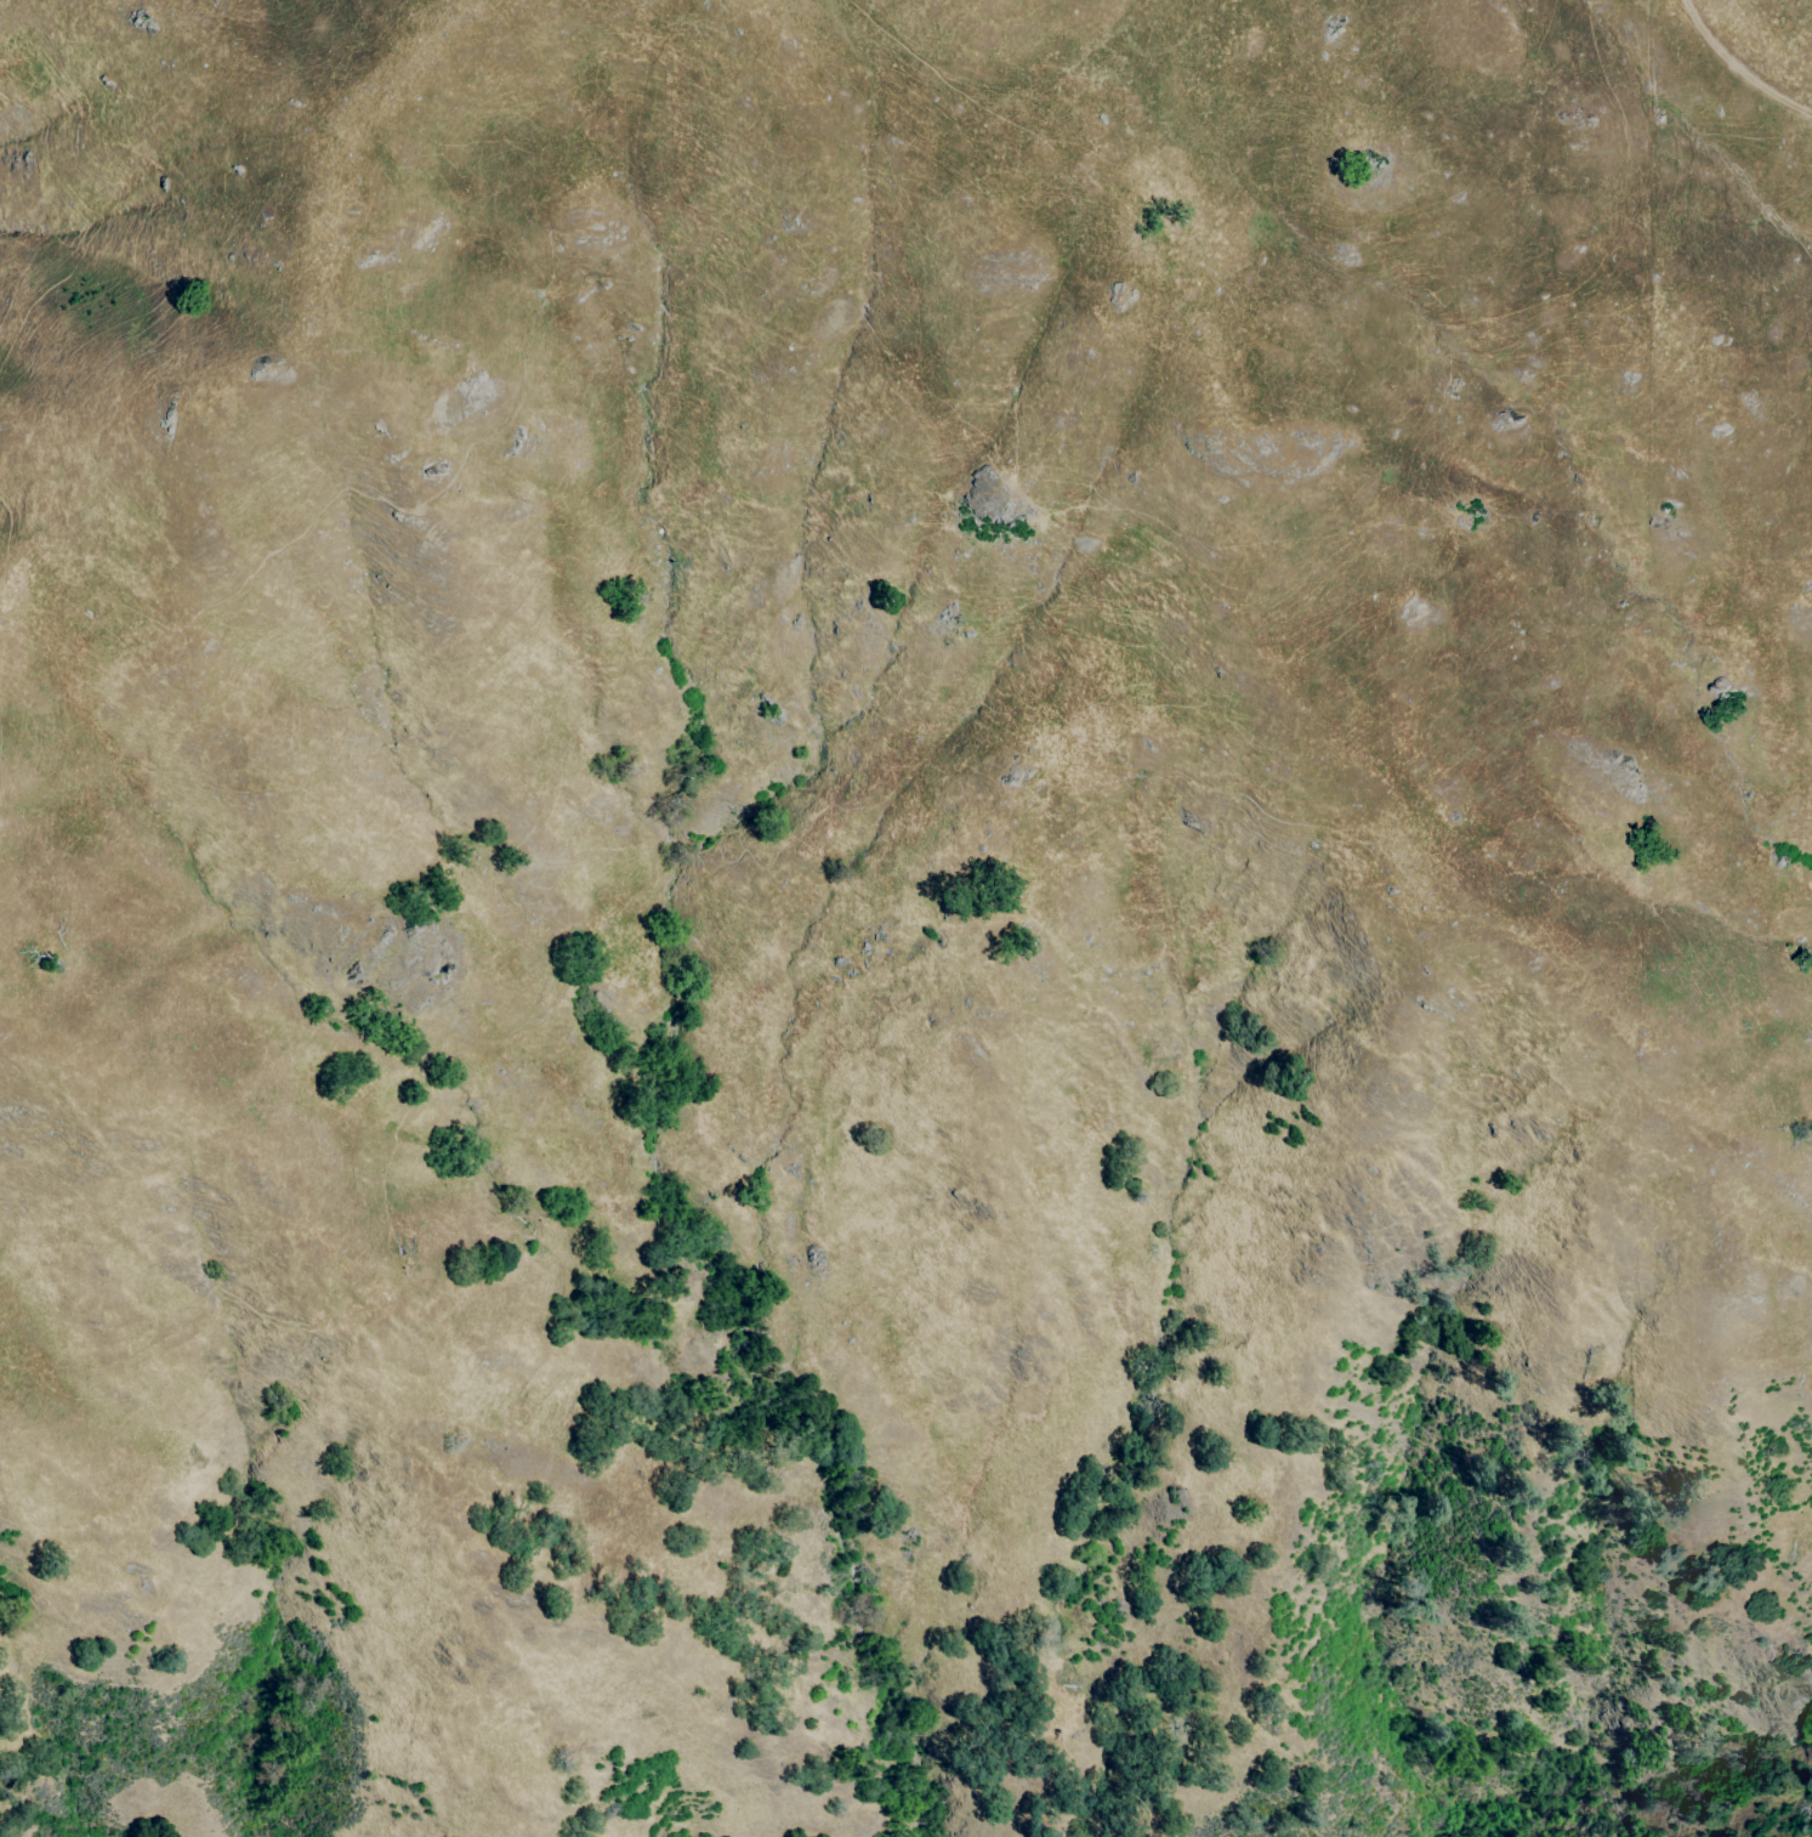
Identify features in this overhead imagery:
road: (1744, 64)

